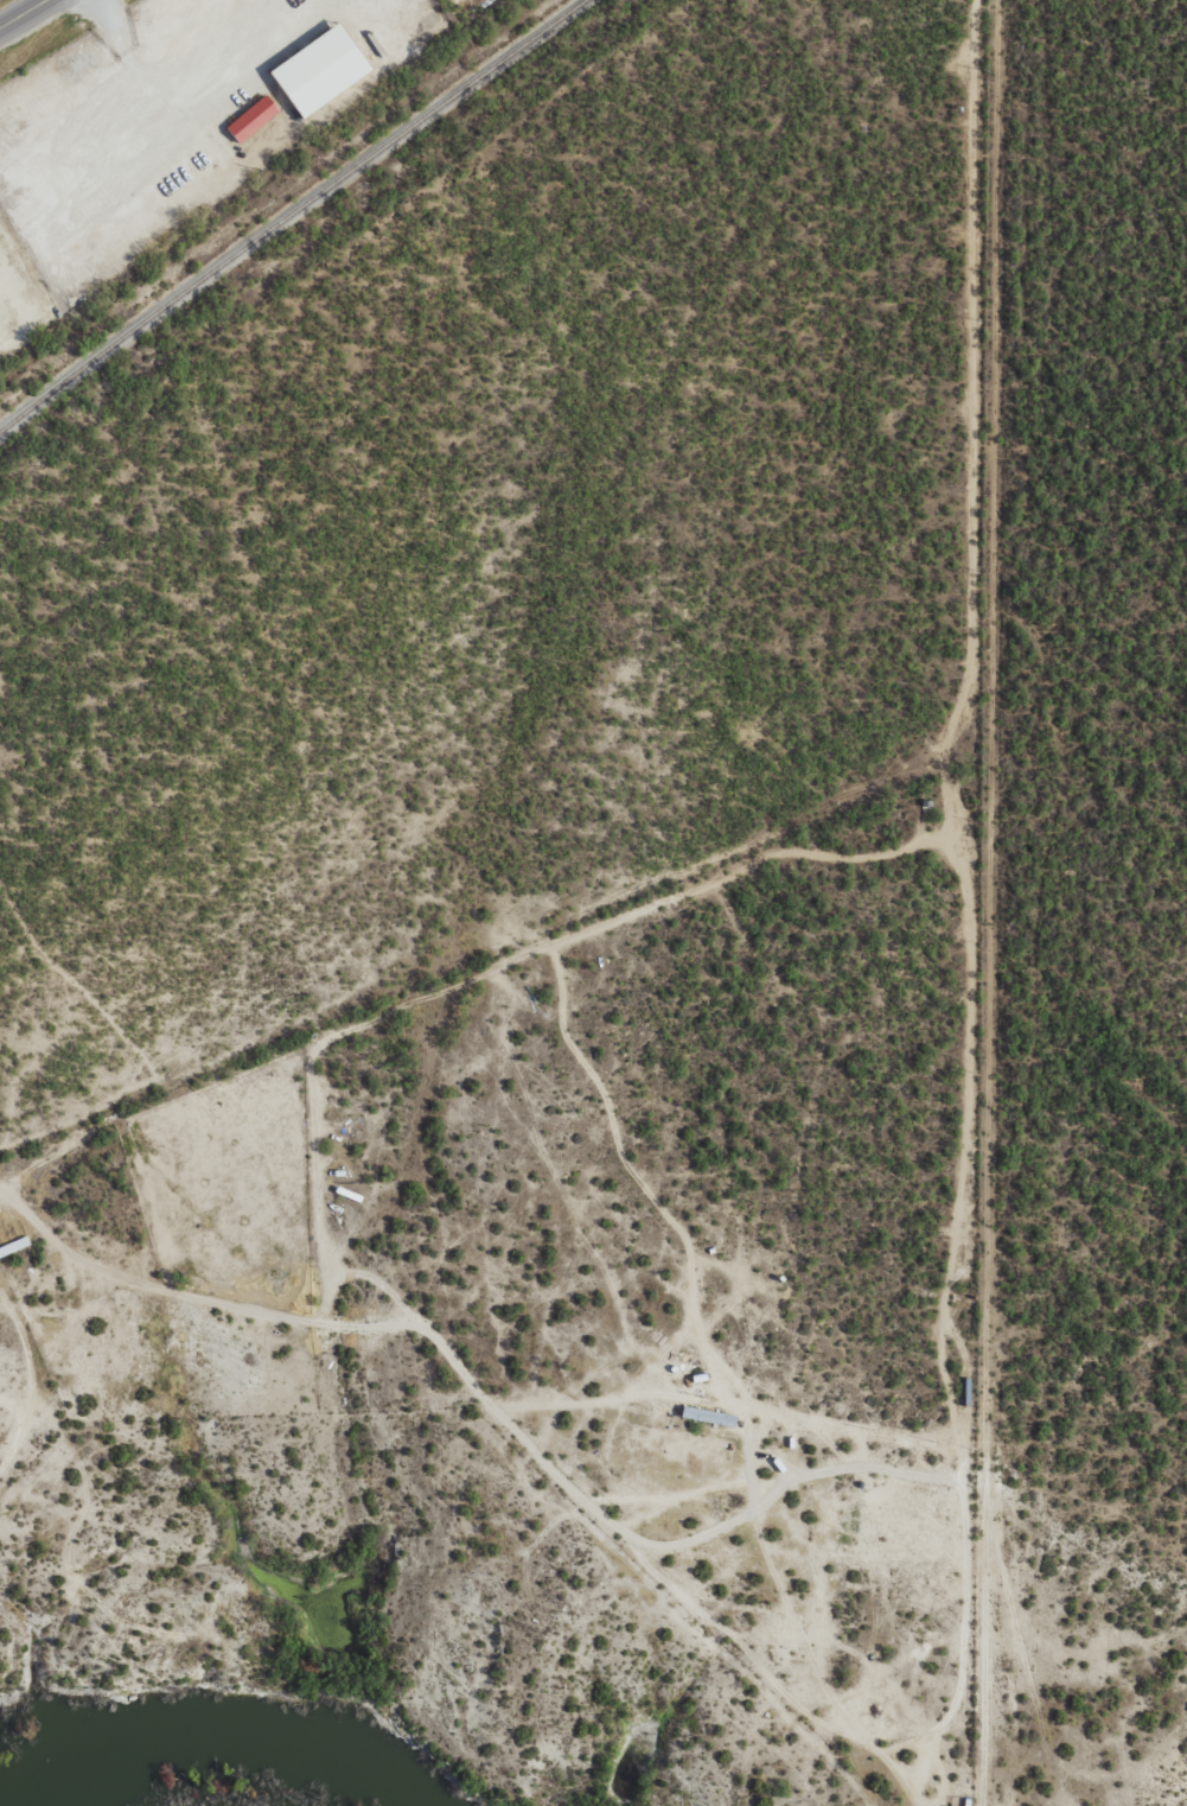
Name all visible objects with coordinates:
road: (36, 20)
building: (320, 70)
building: (253, 119)
railway: (287, 210)
road: (1035, 902)
building: (709, 1417)
road: (957, 1496)
river: (226, 1744)

